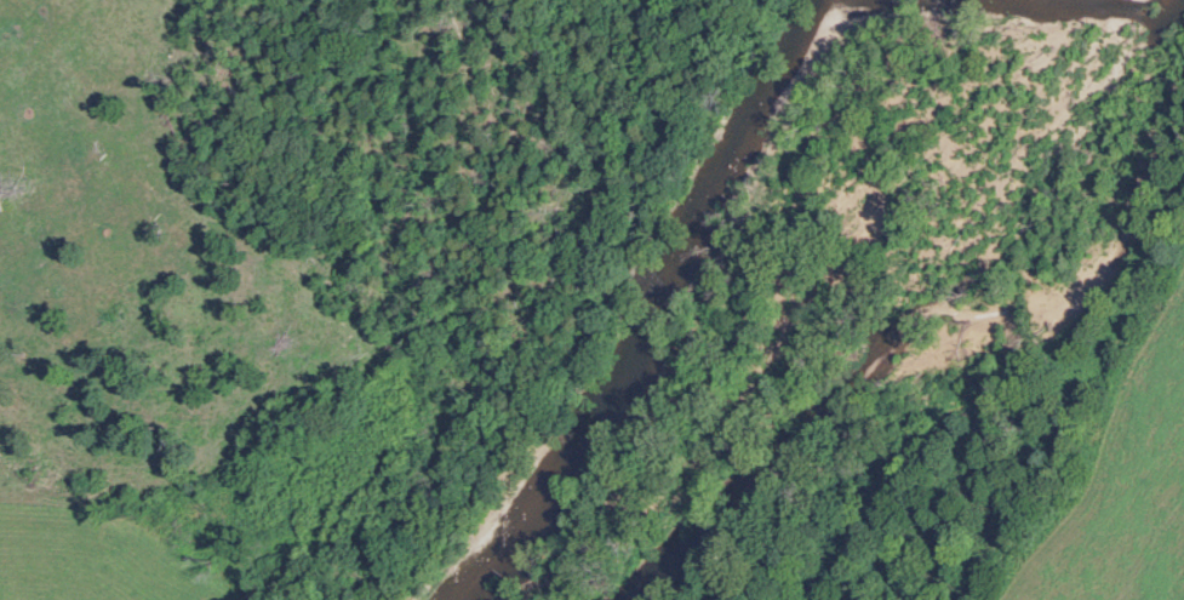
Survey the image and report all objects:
river: (658, 309)

